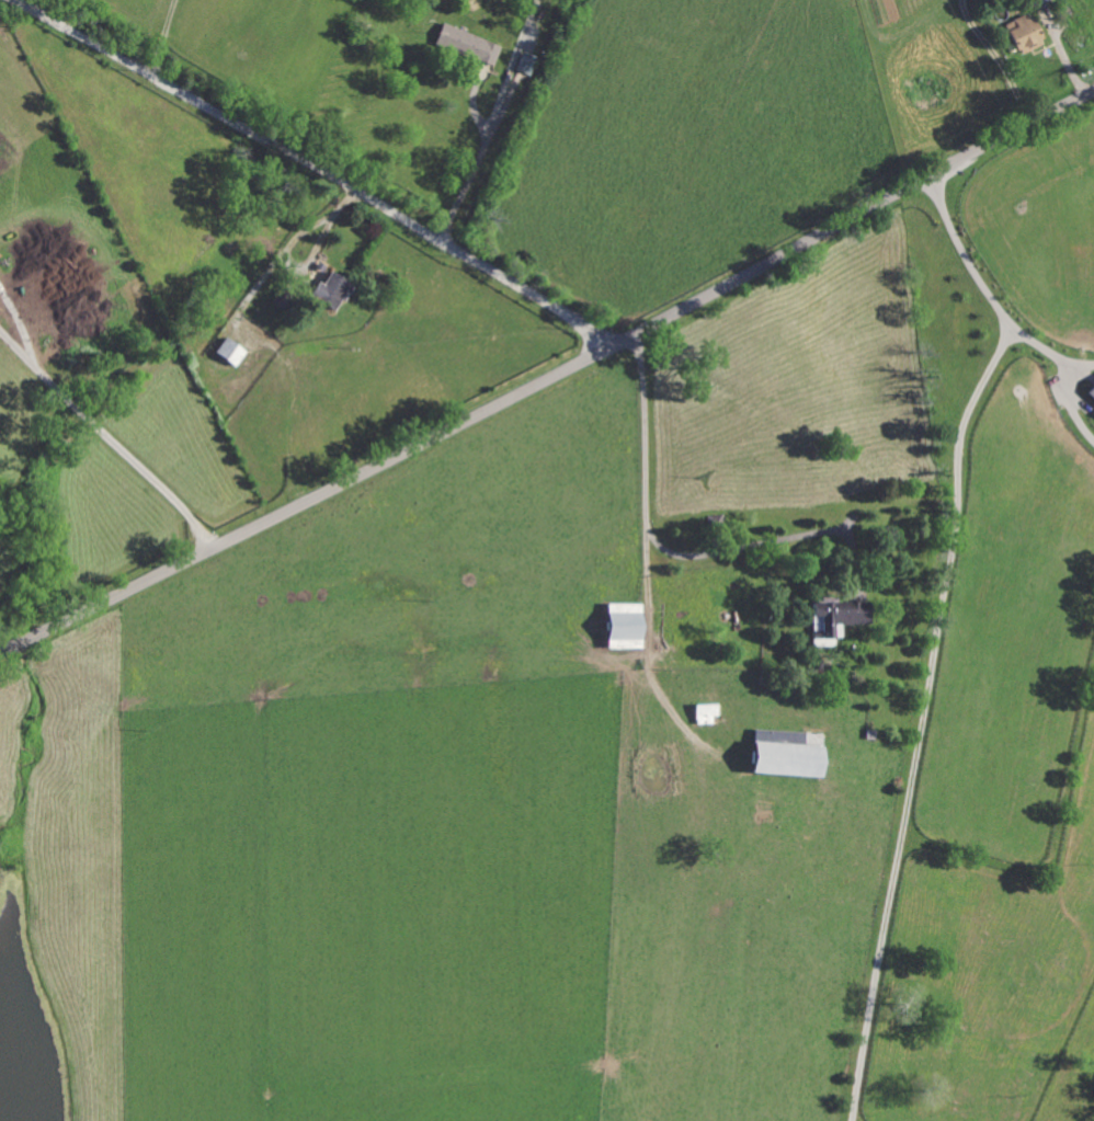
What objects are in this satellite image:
building: (1035, 1)
building: (1022, 35)
road: (162, 38)
building: (467, 45)
road: (991, 62)
building: (527, 64)
road: (497, 122)
road: (317, 171)
building: (330, 290)
road: (1037, 345)
building: (229, 352)
road: (1078, 365)
road: (550, 379)
building: (1091, 392)
road: (1070, 405)
road: (109, 438)
road: (654, 535)
building: (834, 620)
building: (623, 626)
road: (937, 633)
building: (705, 713)
building: (782, 756)

